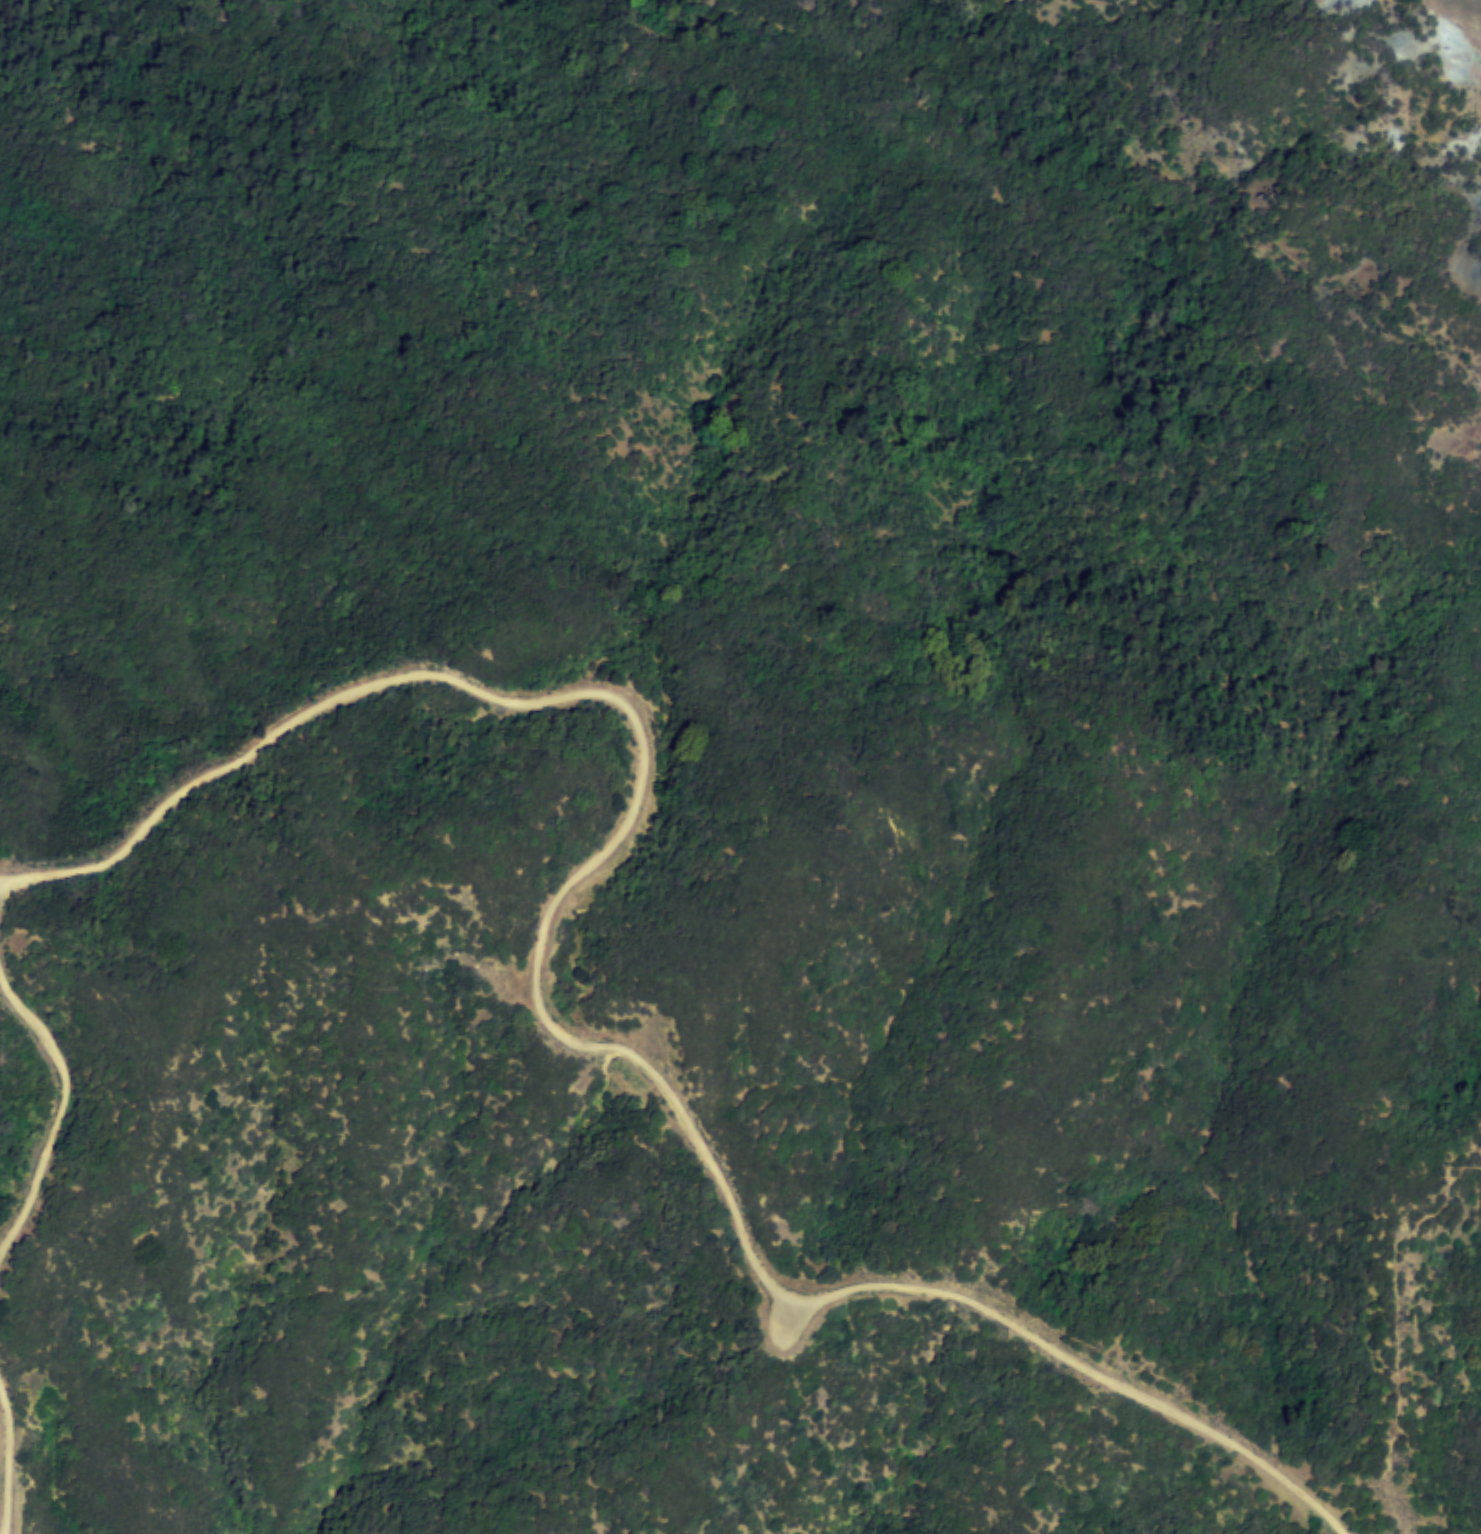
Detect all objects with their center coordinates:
road: (1457, 53)
road: (536, 1003)
road: (60, 1110)
road: (1396, 1324)
road: (9, 1461)

